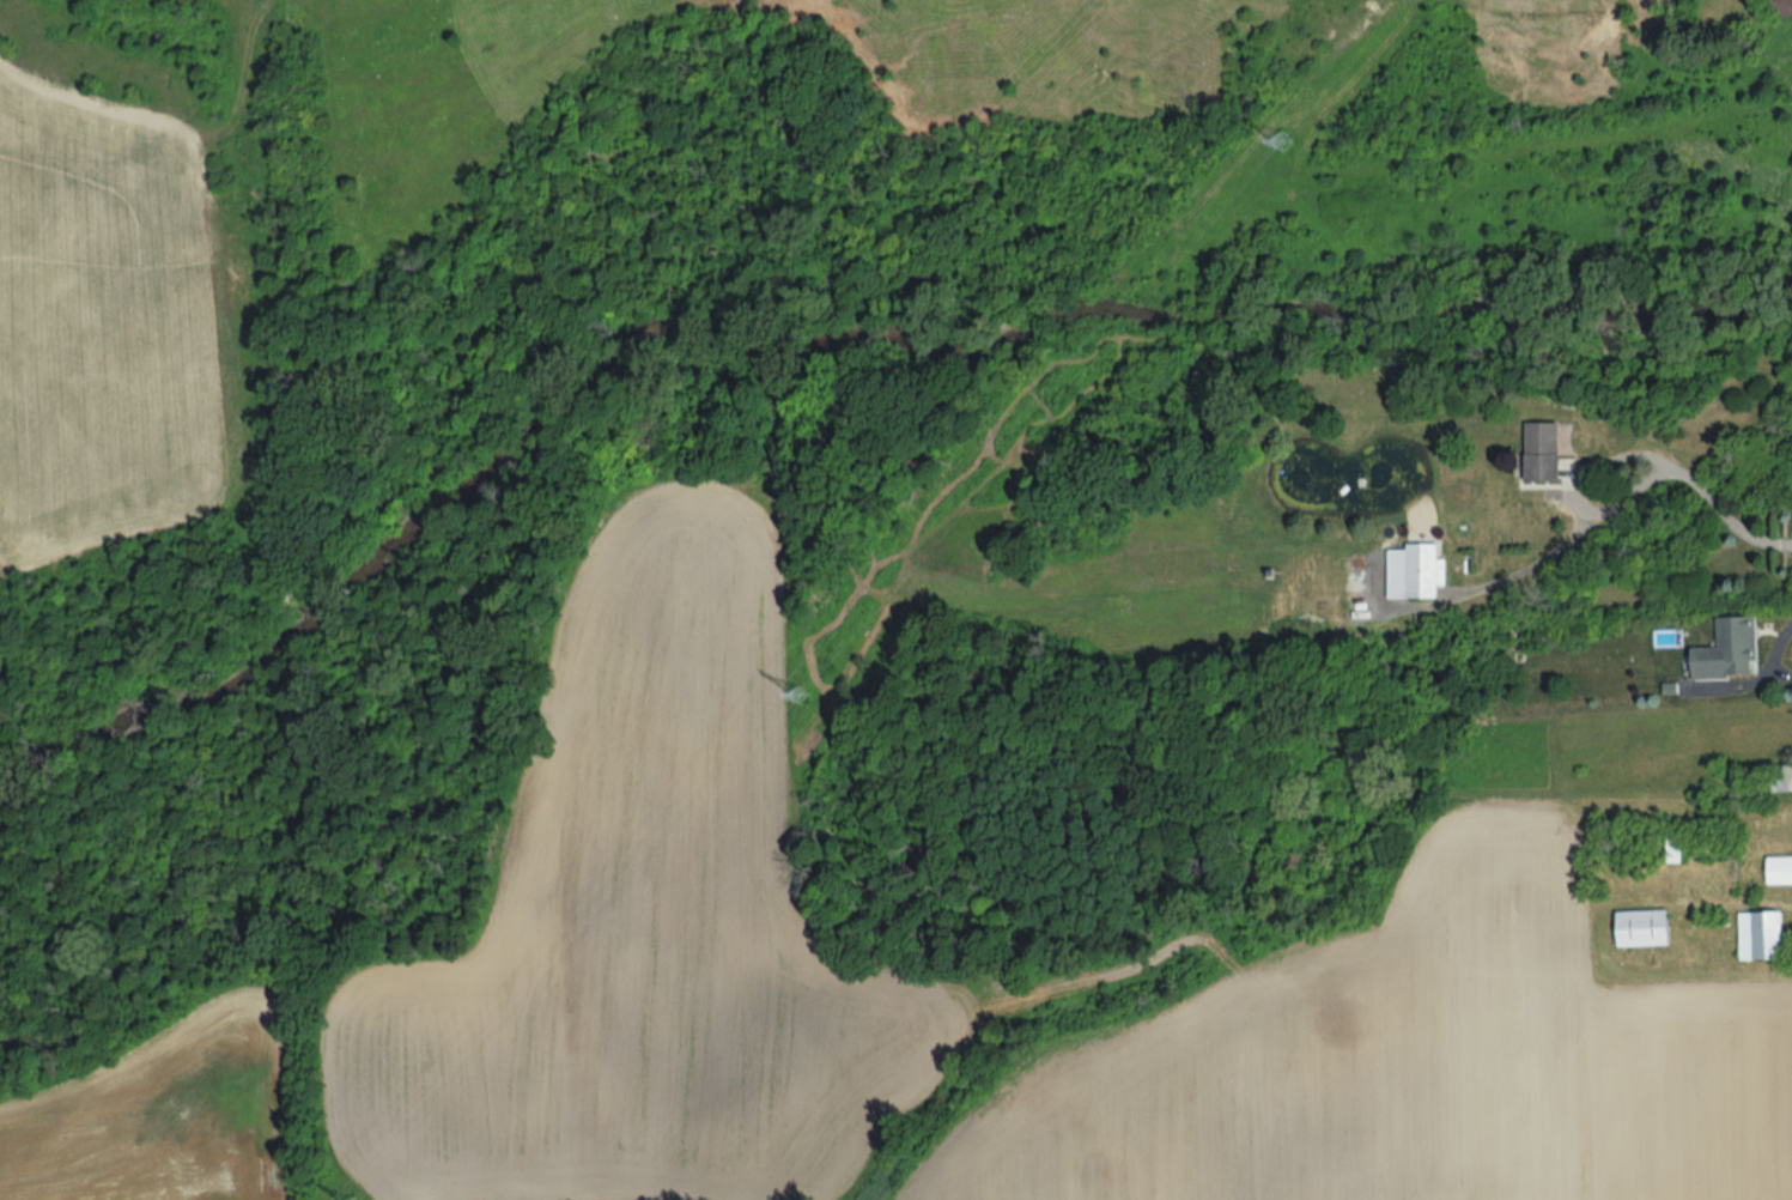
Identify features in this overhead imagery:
power tower: (1287, 140)
crop: (108, 328)
building: (1541, 454)
road: (1708, 497)
building: (1413, 572)
building: (1727, 650)
road: (1768, 663)
power tower: (803, 696)
building: (1775, 777)
building: (1671, 846)
building: (1778, 869)
crop: (642, 925)
building: (1639, 928)
building: (1761, 932)
crop: (1407, 1063)
crop: (157, 1116)

